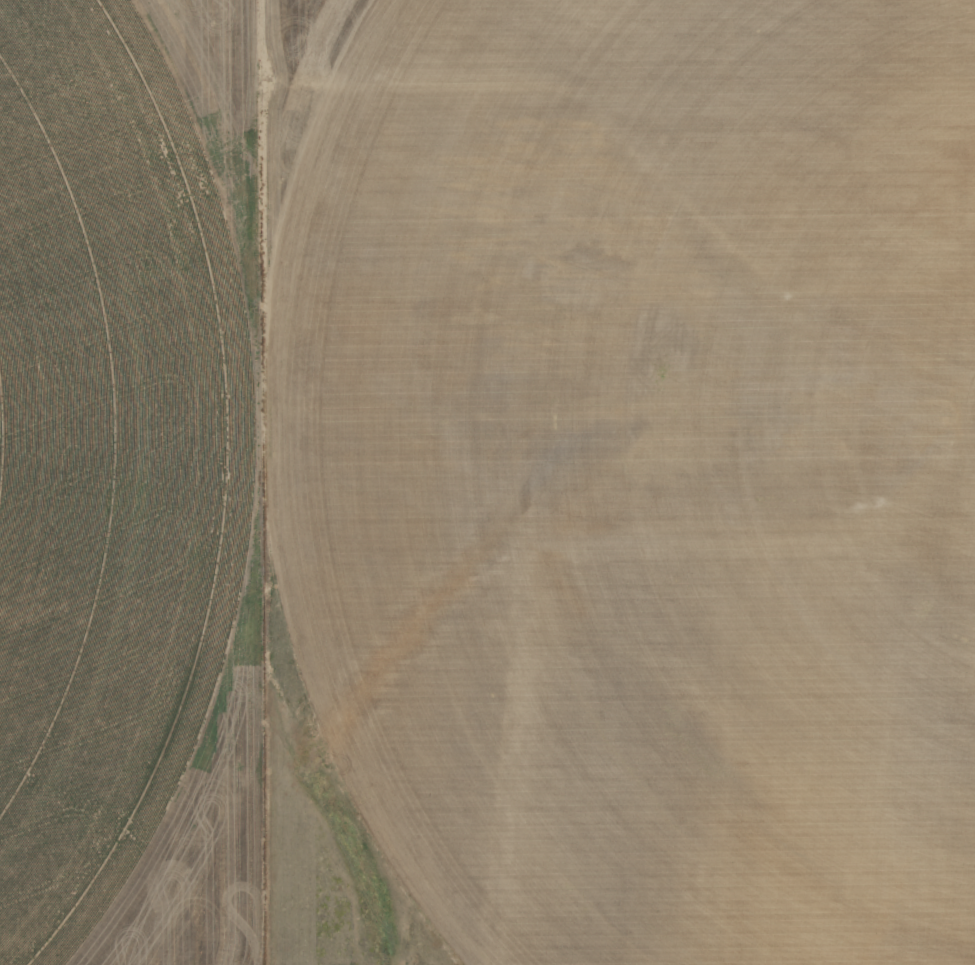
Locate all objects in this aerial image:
road: (910, 269)
crop: (676, 475)

